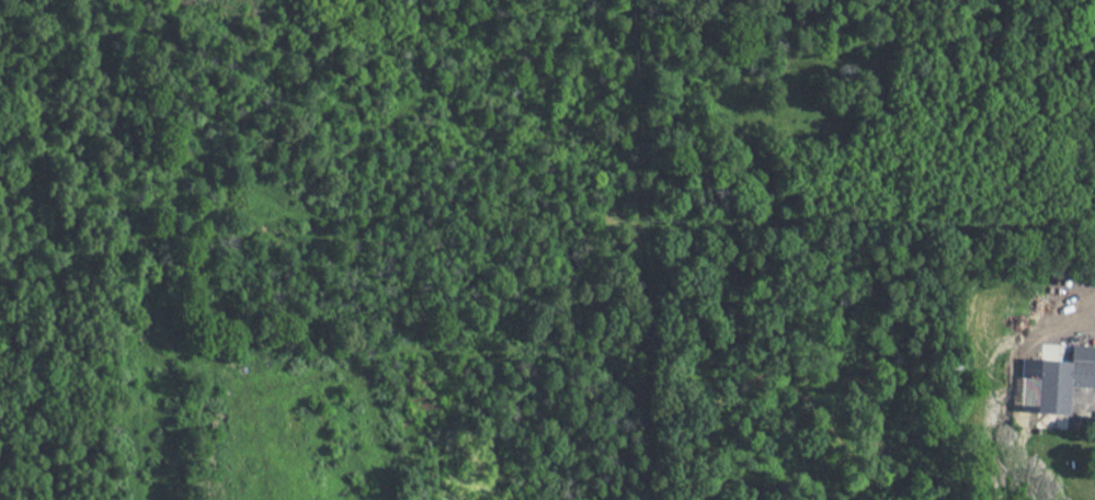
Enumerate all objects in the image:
building: (1054, 379)

